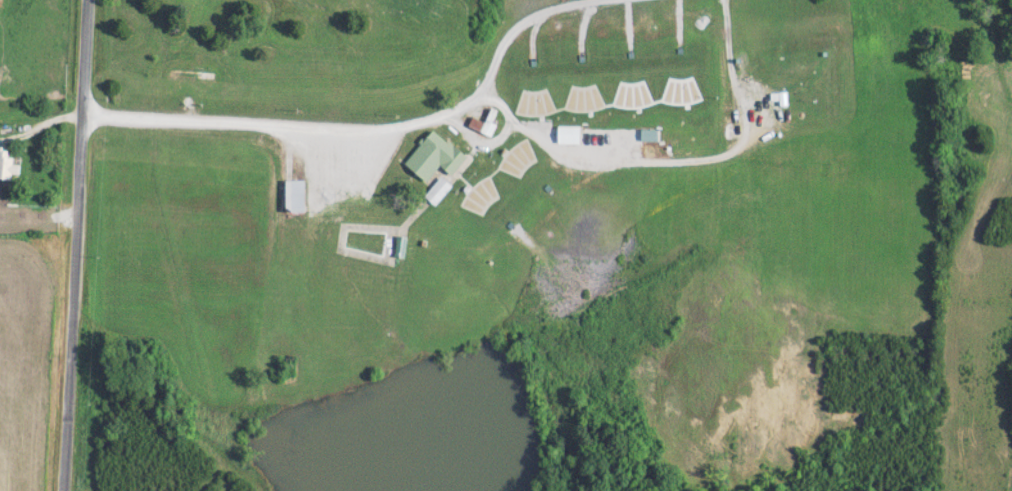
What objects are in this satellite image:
building: (190, 75)
road: (386, 132)
building: (569, 135)
building: (649, 136)
building: (435, 157)
building: (7, 169)
building: (438, 191)
building: (295, 197)
road: (76, 245)
building: (400, 247)

